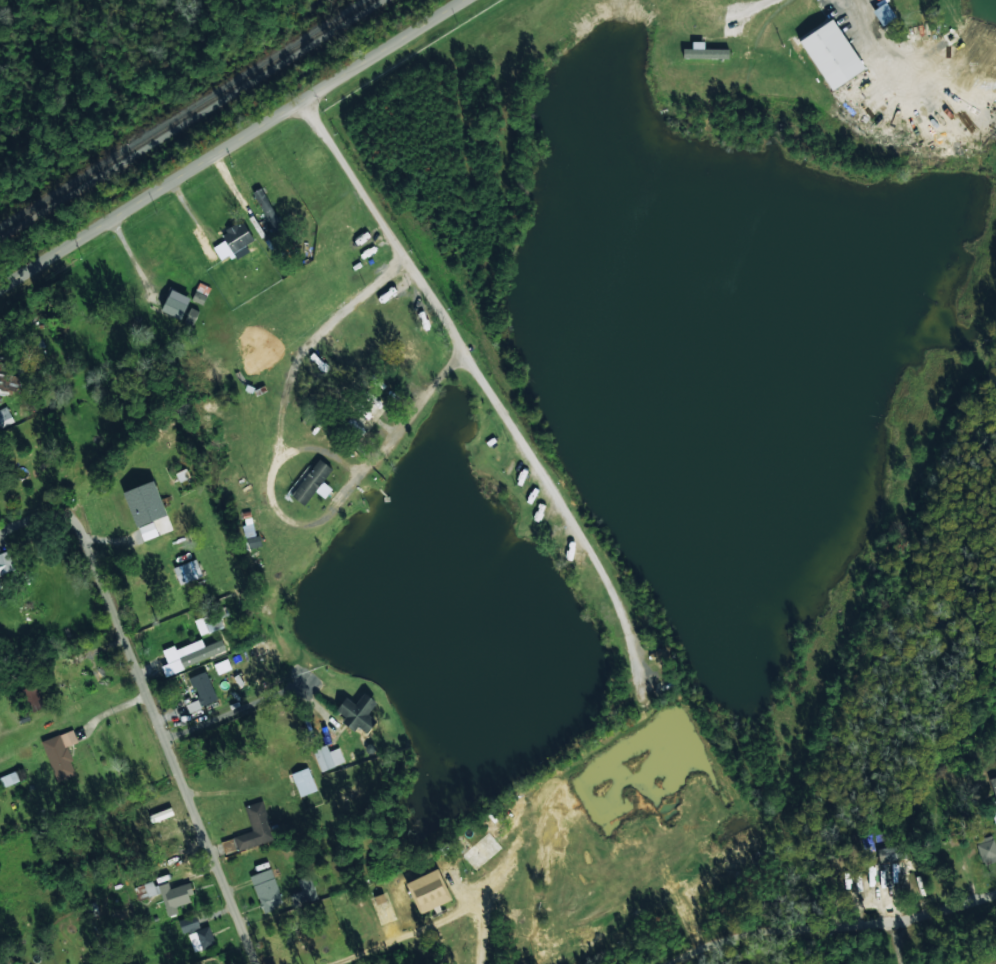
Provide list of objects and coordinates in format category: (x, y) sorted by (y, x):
building: (702, 53)
building: (831, 54)
road: (922, 55)
railway: (184, 113)
road: (226, 138)
building: (237, 239)
building: (175, 304)
building: (367, 412)
building: (313, 483)
building: (145, 508)
road: (39, 513)
building: (6, 563)
building: (187, 571)
building: (0, 587)
building: (208, 623)
building: (190, 654)
building: (201, 690)
building: (32, 698)
building: (357, 713)
road: (159, 729)
building: (60, 754)
building: (327, 757)
building: (12, 777)
building: (303, 782)
building: (994, 792)
building: (255, 827)
building: (986, 849)
building: (891, 853)
building: (148, 889)
building: (266, 889)
building: (429, 891)
building: (304, 892)
building: (174, 897)
road: (832, 922)
building: (189, 924)
building: (201, 938)
road: (901, 942)

